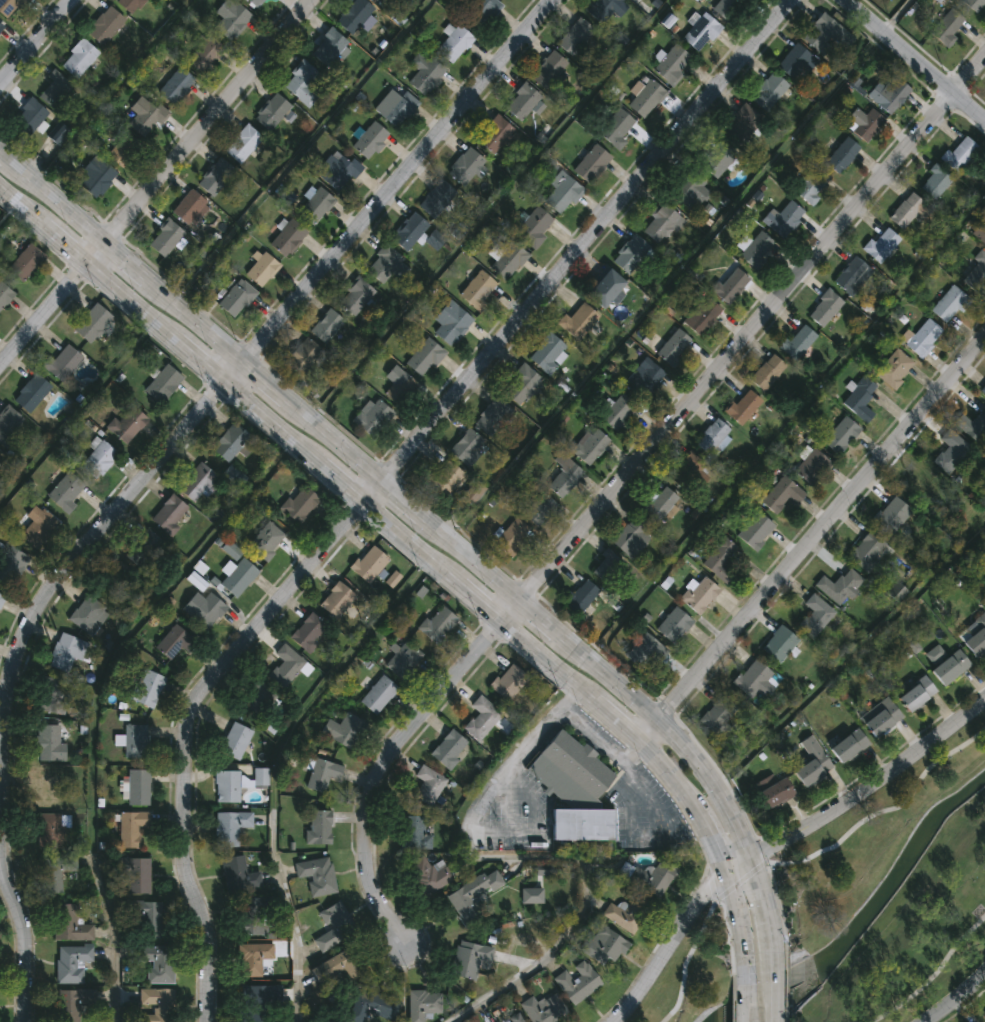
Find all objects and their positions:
building: (505, 0)
building: (256, 2)
building: (386, 2)
building: (129, 4)
building: (973, 4)
building: (9, 7)
building: (724, 7)
building: (602, 9)
building: (480, 11)
building: (354, 15)
road: (897, 15)
building: (230, 18)
building: (105, 25)
building: (1, 27)
building: (946, 28)
building: (1, 29)
building: (825, 31)
building: (700, 32)
building: (575, 36)
road: (33, 38)
building: (330, 49)
building: (204, 53)
building: (79, 58)
road: (916, 58)
building: (792, 61)
building: (672, 64)
building: (547, 70)
building: (425, 74)
building: (303, 84)
building: (175, 85)
road: (111, 88)
building: (55, 89)
building: (767, 92)
building: (889, 94)
building: (646, 99)
building: (521, 102)
building: (395, 107)
building: (271, 111)
building: (145, 116)
building: (27, 118)
building: (862, 124)
building: (741, 125)
building: (615, 128)
building: (57, 133)
building: (495, 133)
building: (370, 140)
building: (243, 143)
road: (298, 145)
building: (121, 152)
building: (958, 154)
building: (840, 156)
building: (716, 159)
building: (591, 164)
building: (465, 166)
building: (338, 170)
building: (94, 175)
building: (215, 176)
road: (153, 179)
building: (933, 182)
building: (810, 186)
building: (688, 191)
building: (562, 194)
building: (436, 198)
building: (315, 205)
building: (188, 206)
road: (493, 206)
building: (904, 211)
road: (8, 213)
building: (784, 219)
building: (658, 223)
building: (533, 227)
building: (409, 231)
building: (979, 234)
building: (165, 237)
building: (287, 238)
building: (434, 239)
building: (879, 244)
building: (756, 250)
building: (630, 256)
building: (508, 261)
building: (27, 262)
building: (387, 265)
building: (262, 268)
building: (975, 269)
building: (850, 276)
road: (668, 281)
building: (727, 284)
building: (602, 288)
building: (477, 291)
building: (5, 294)
building: (355, 296)
building: (236, 297)
building: (948, 305)
building: (823, 308)
building: (699, 315)
building: (576, 321)
building: (450, 322)
building: (93, 323)
building: (327, 325)
building: (922, 338)
building: (796, 342)
building: (671, 347)
building: (546, 353)
building: (303, 354)
building: (424, 357)
building: (62, 363)
building: (892, 368)
road: (226, 370)
building: (765, 373)
building: (642, 379)
building: (164, 384)
building: (520, 384)
building: (400, 391)
building: (984, 391)
building: (32, 392)
building: (859, 399)
building: (741, 407)
road: (76, 411)
building: (616, 413)
building: (372, 419)
building: (488, 419)
road: (786, 419)
building: (8, 422)
building: (128, 424)
building: (972, 426)
building: (838, 435)
building: (712, 438)
building: (234, 442)
building: (463, 446)
building: (588, 447)
building: (950, 452)
building: (0, 457)
building: (99, 459)
building: (810, 467)
building: (688, 470)
road: (383, 473)
building: (562, 476)
road: (616, 478)
building: (443, 480)
building: (199, 481)
building: (922, 487)
building: (66, 492)
building: (472, 493)
building: (780, 495)
building: (658, 504)
building: (302, 505)
building: (538, 510)
building: (169, 513)
building: (890, 516)
road: (437, 518)
building: (38, 526)
building: (753, 531)
road: (808, 535)
building: (509, 537)
building: (630, 538)
building: (266, 541)
road: (418, 548)
building: (145, 550)
building: (867, 552)
building: (719, 560)
building: (11, 563)
building: (370, 563)
building: (605, 567)
building: (238, 576)
building: (120, 584)
building: (838, 587)
building: (699, 595)
building: (579, 597)
building: (2, 599)
building: (338, 600)
building: (205, 609)
building: (88, 614)
building: (814, 616)
building: (439, 624)
building: (672, 625)
building: (311, 633)
building: (974, 636)
building: (175, 641)
building: (778, 644)
building: (644, 651)
building: (64, 652)
road: (853, 656)
building: (405, 660)
building: (288, 665)
building: (949, 668)
building: (751, 680)
building: (510, 682)
building: (148, 688)
building: (52, 695)
building: (379, 695)
building: (915, 695)
road: (91, 696)
building: (259, 697)
building: (718, 715)
building: (483, 718)
building: (880, 718)
building: (345, 730)
road: (586, 738)
building: (136, 740)
building: (236, 740)
building: (48, 742)
building: (848, 746)
building: (450, 749)
building: (811, 762)
road: (275, 764)
building: (323, 774)
building: (430, 785)
building: (228, 786)
building: (45, 787)
building: (139, 787)
building: (574, 789)
building: (773, 795)
building: (133, 828)
building: (231, 828)
building: (320, 828)
building: (51, 831)
road: (851, 832)
building: (416, 833)
road: (777, 840)
building: (56, 873)
building: (240, 875)
road: (770, 875)
building: (318, 876)
building: (136, 877)
building: (433, 877)
building: (652, 878)
building: (473, 894)
road: (745, 906)
road: (586, 910)
park: (849, 912)
building: (252, 914)
building: (627, 914)
building: (148, 920)
building: (69, 923)
building: (335, 927)
road: (23, 936)
building: (604, 946)
building: (256, 952)
building: (470, 959)
road: (710, 962)
building: (72, 963)
building: (159, 965)
building: (339, 967)
road: (934, 973)
building: (579, 982)
road: (786, 987)
road: (775, 990)
road: (746, 995)
road: (953, 996)
road: (733, 998)
building: (73, 1003)
building: (158, 1004)
building: (424, 1004)
building: (372, 1006)
building: (545, 1009)
building: (512, 1018)

